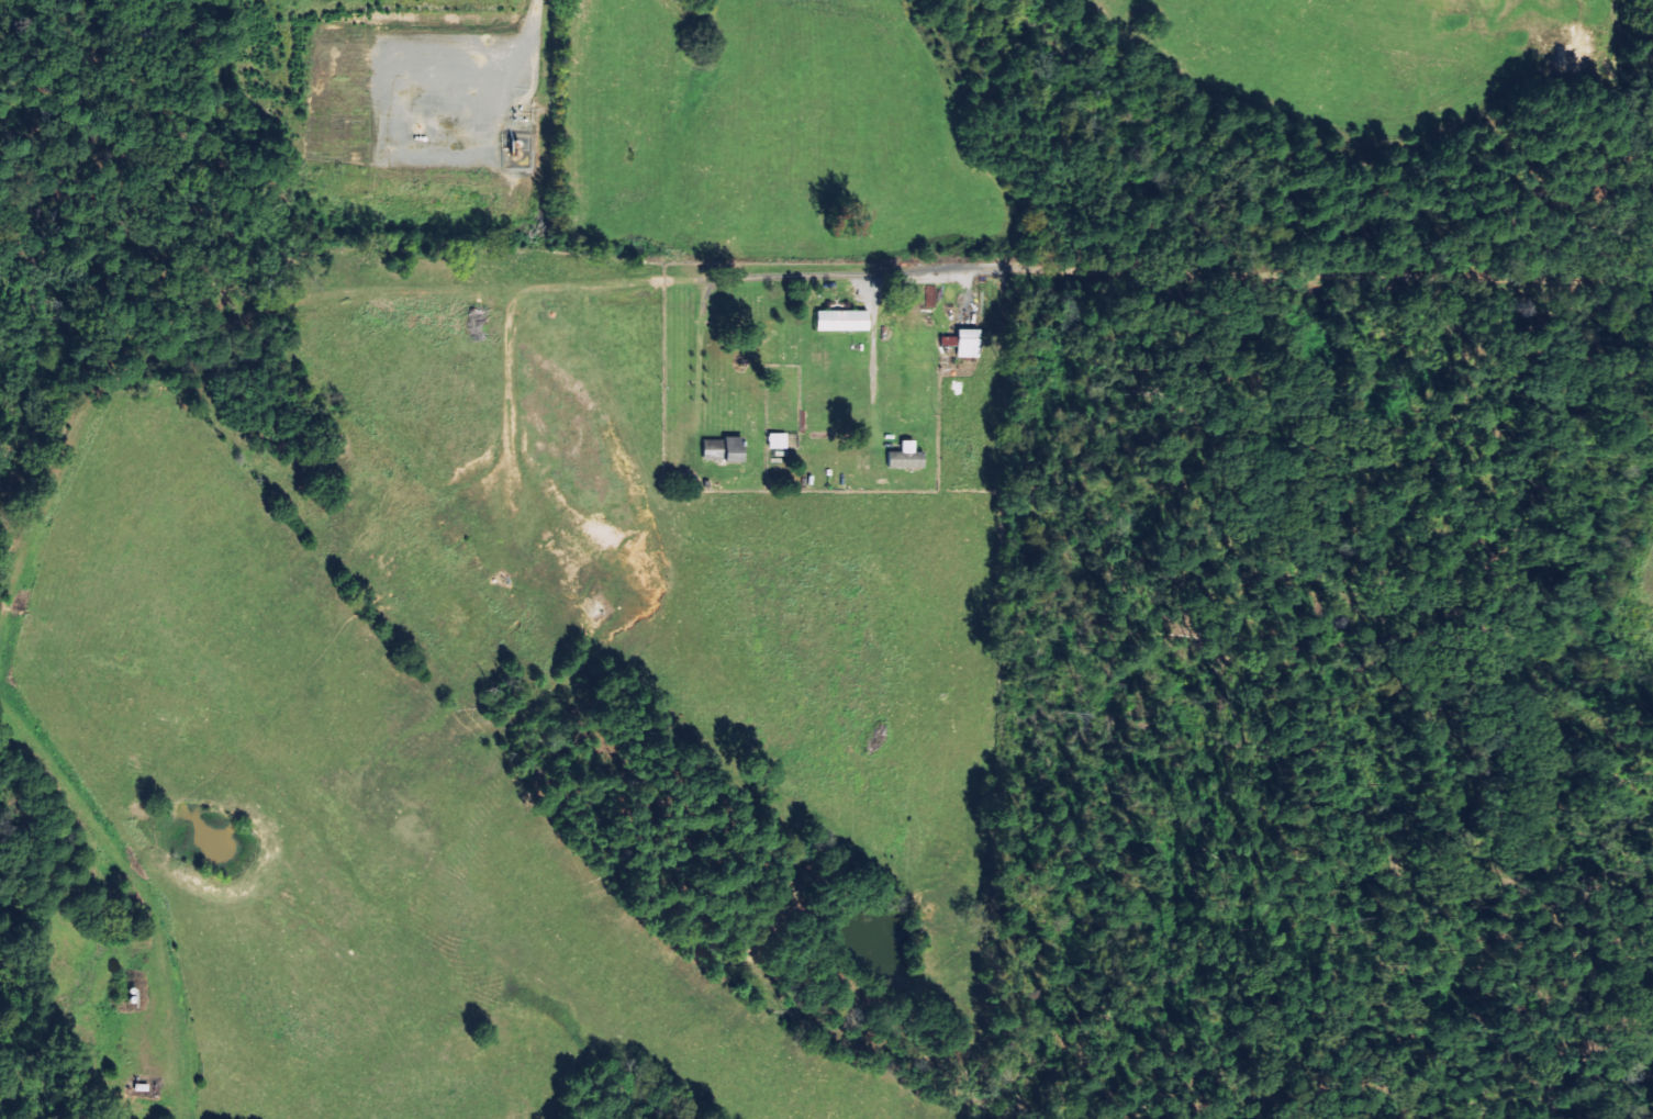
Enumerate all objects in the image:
road: (1192, 272)
building: (844, 320)
building: (967, 342)
building: (778, 439)
building: (725, 448)
building: (906, 456)

